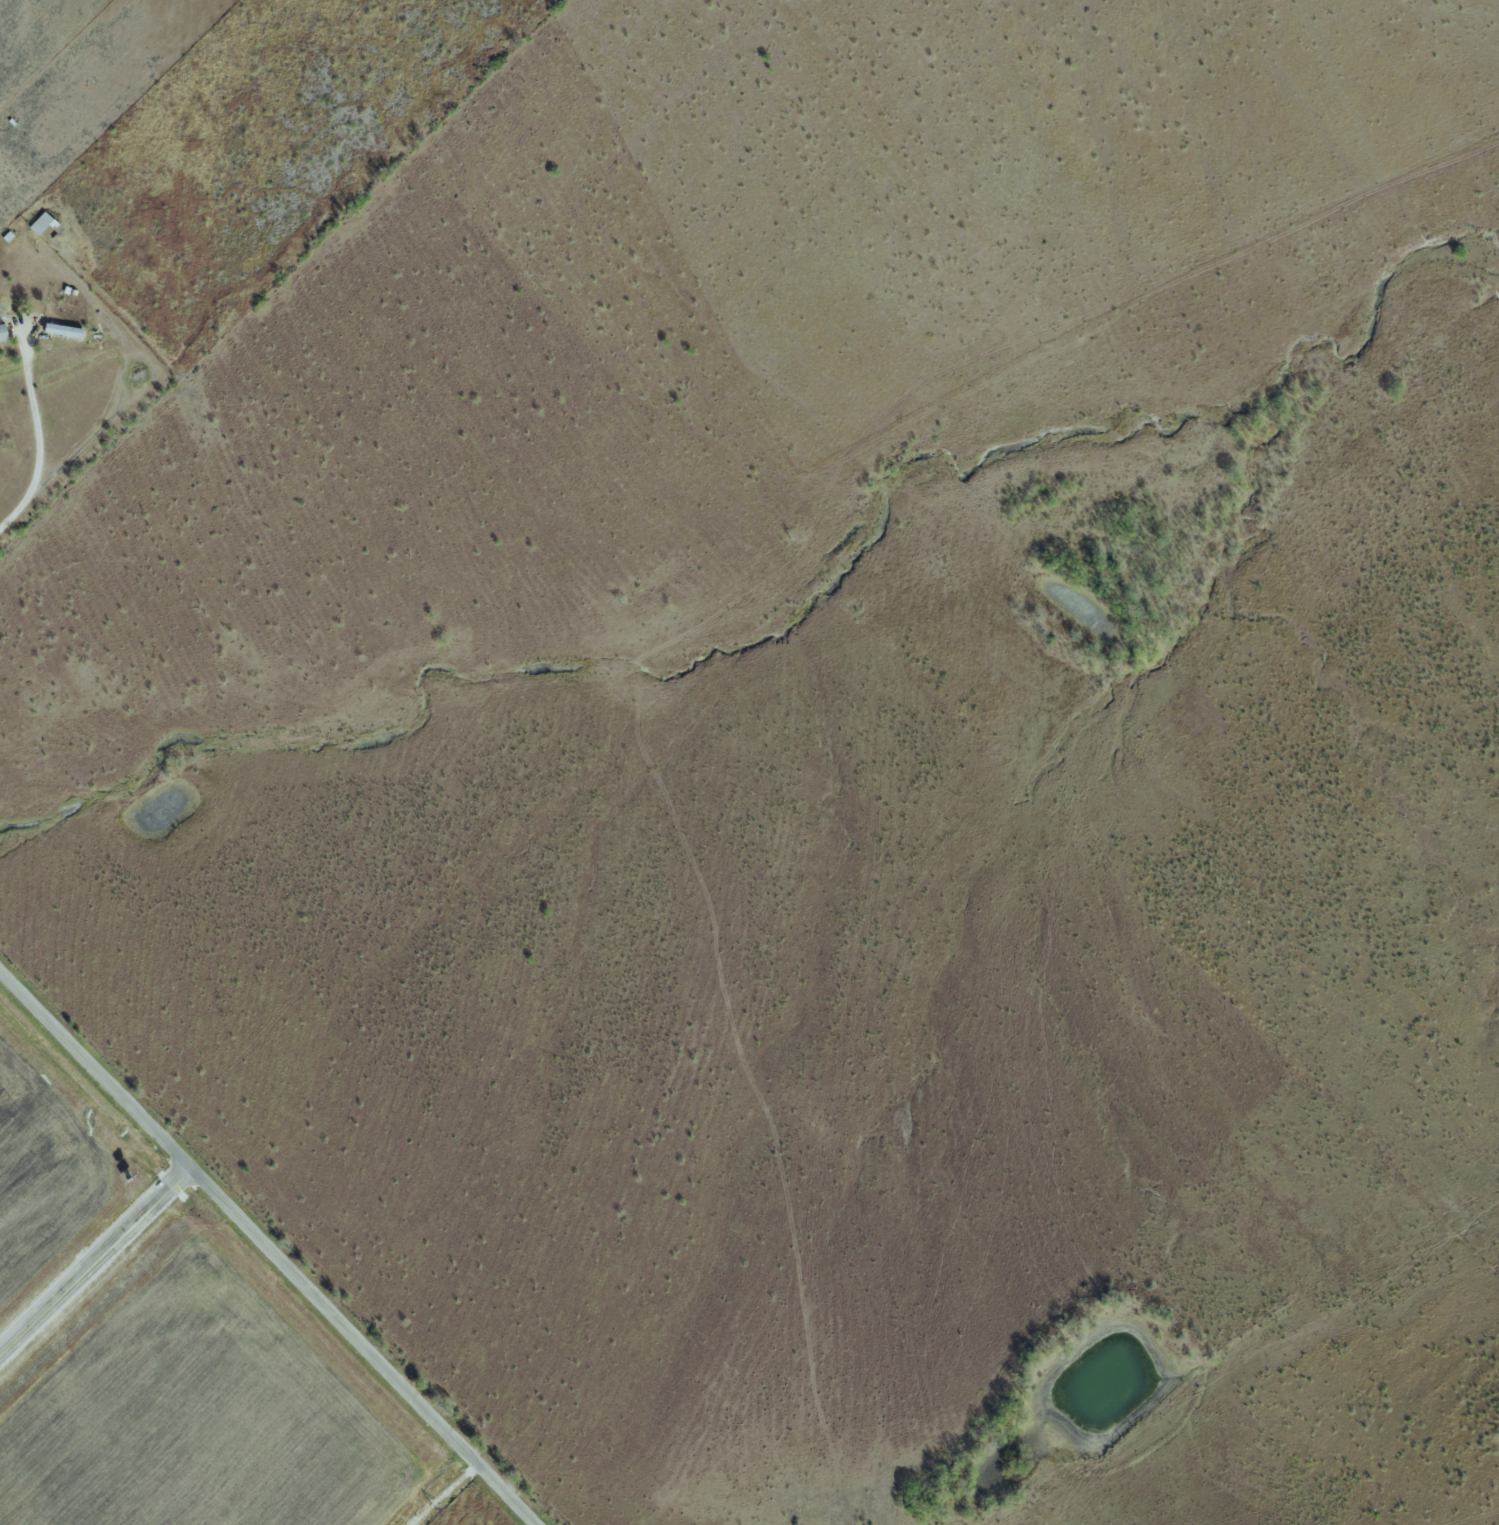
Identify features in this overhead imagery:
building: (38, 223)
building: (56, 329)
building: (2, 332)
road: (37, 446)
road: (261, 1256)
road: (91, 1262)

